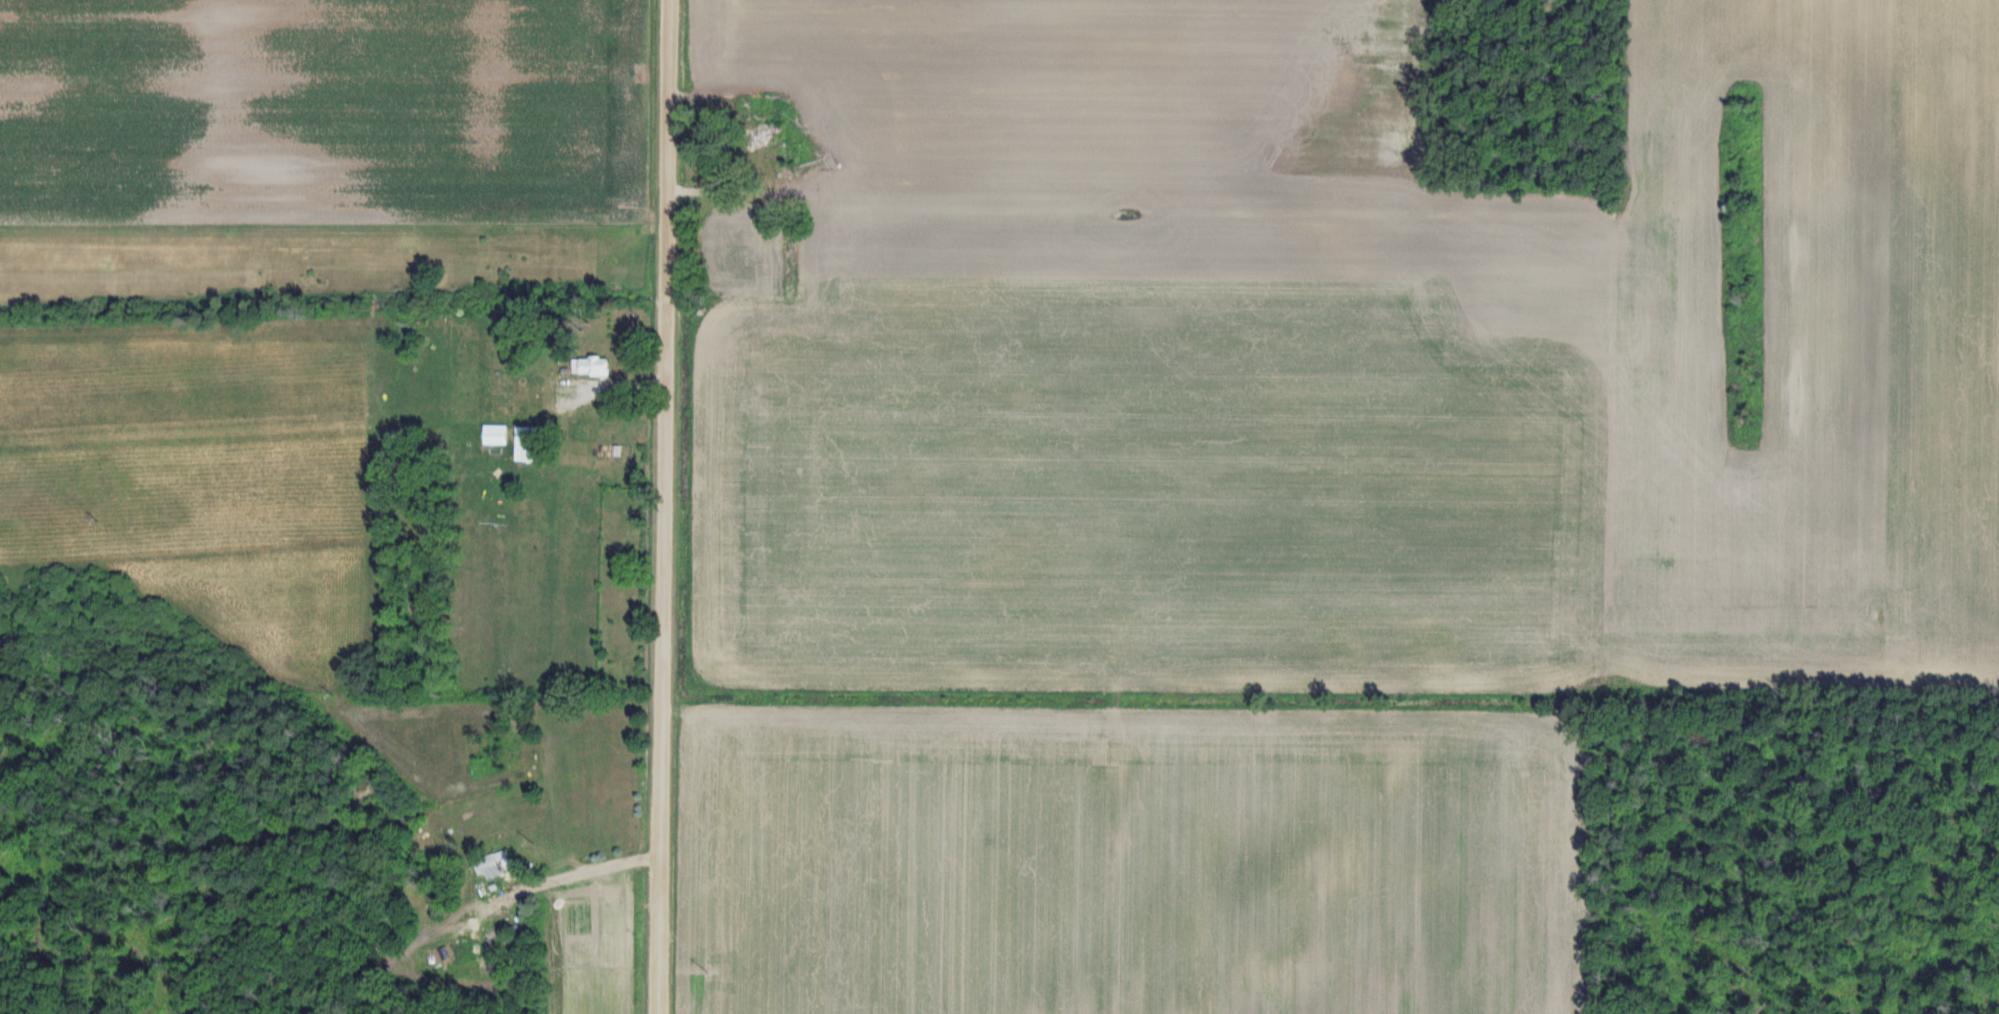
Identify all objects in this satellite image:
building: (596, 364)
road: (578, 381)
building: (531, 444)
road: (668, 506)
road: (591, 868)

